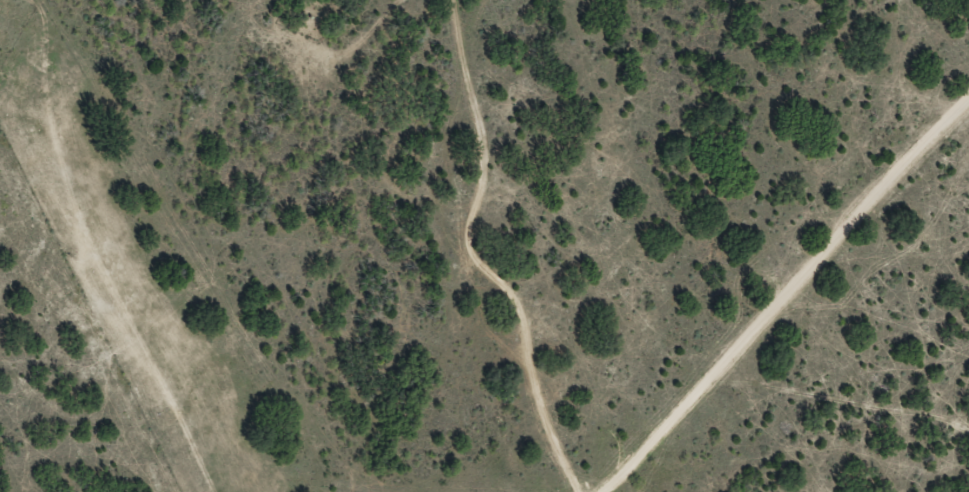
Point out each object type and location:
airport runway: (125, 289)
road: (782, 294)

